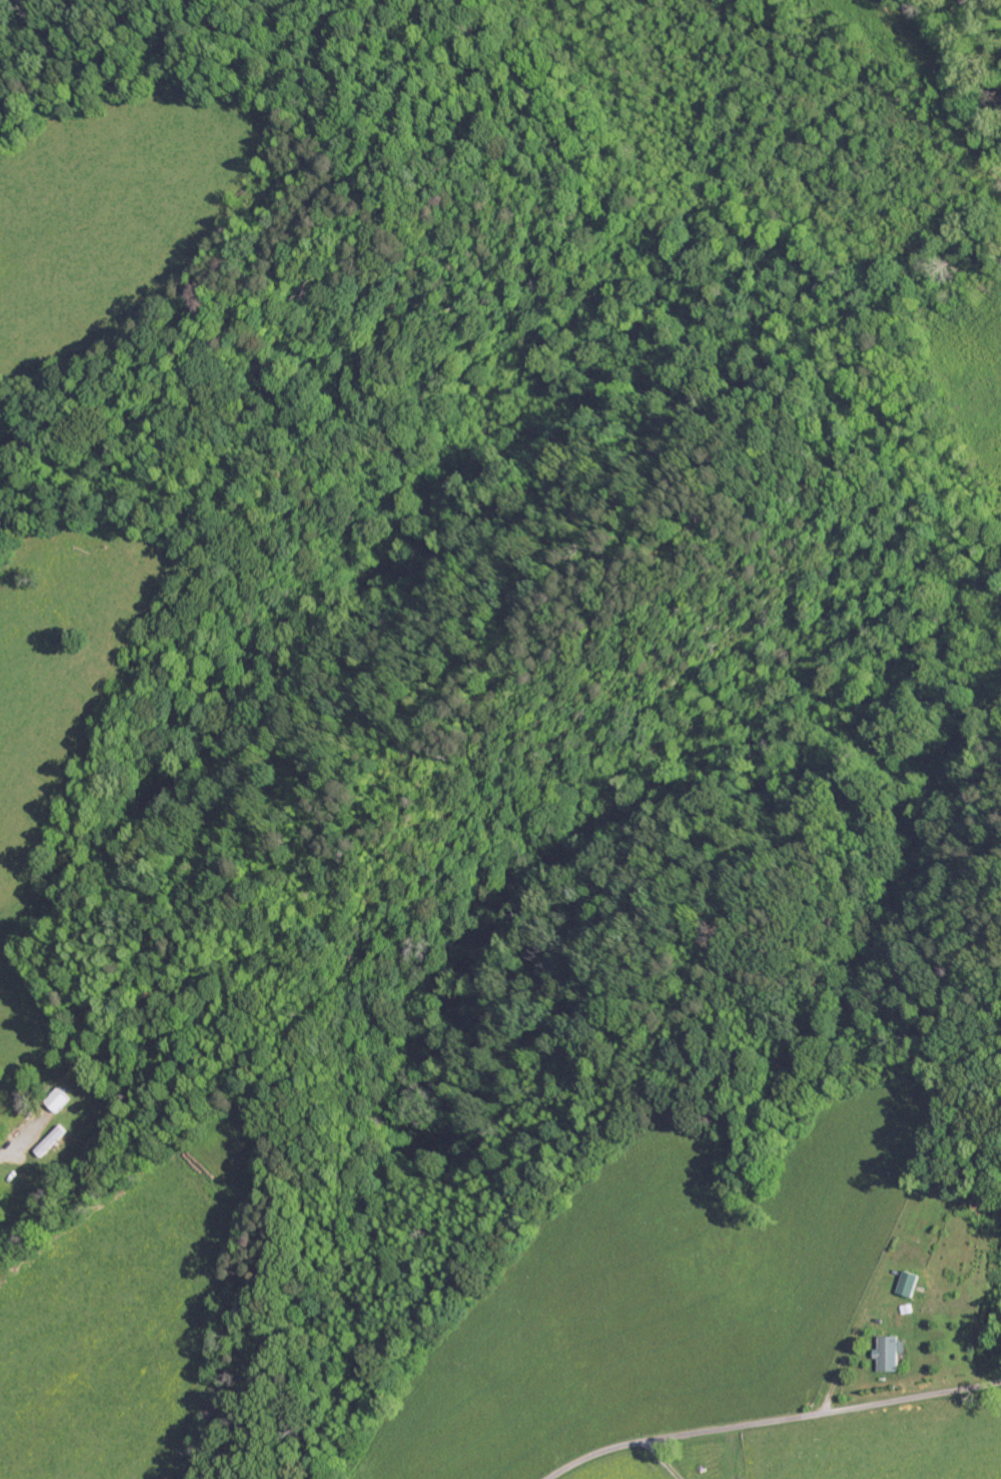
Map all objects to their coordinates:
building: (51, 1141)
building: (910, 1284)
building: (891, 1353)
road: (680, 1436)

